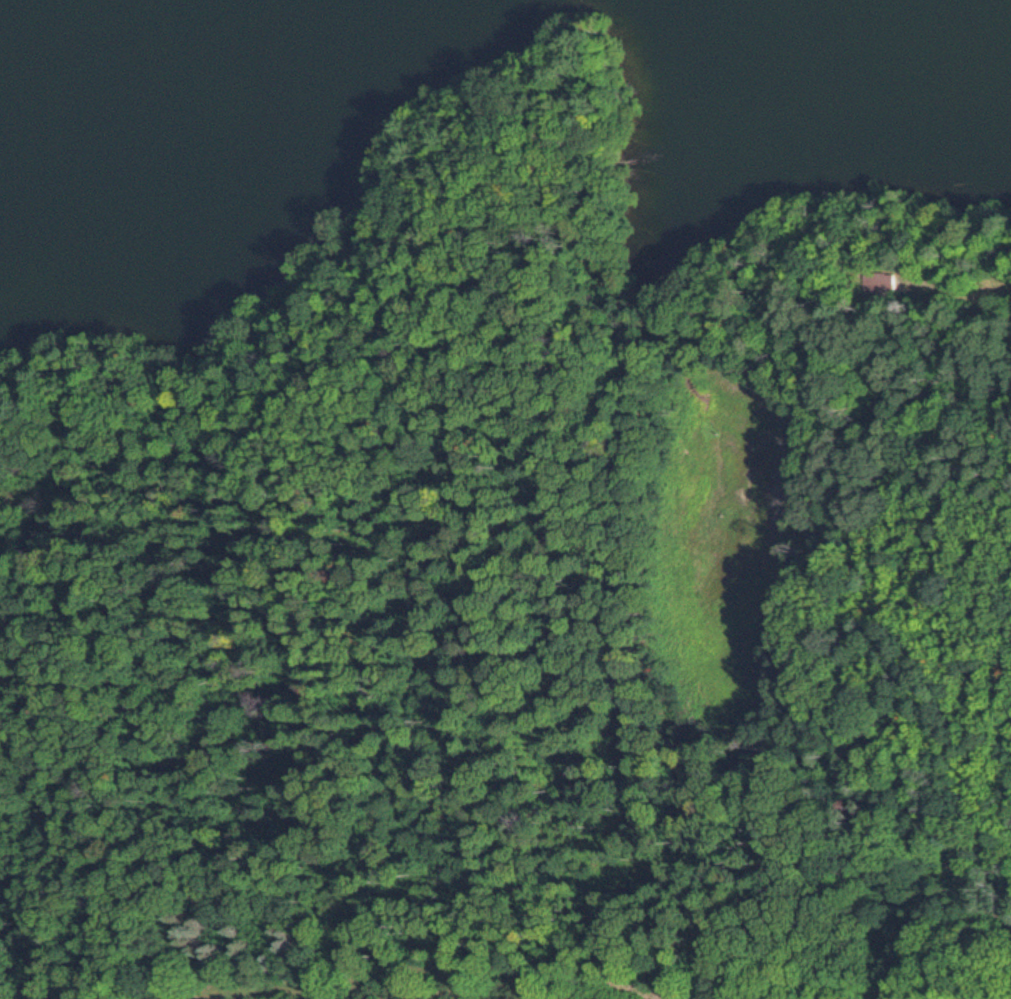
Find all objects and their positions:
building: (896, 285)

